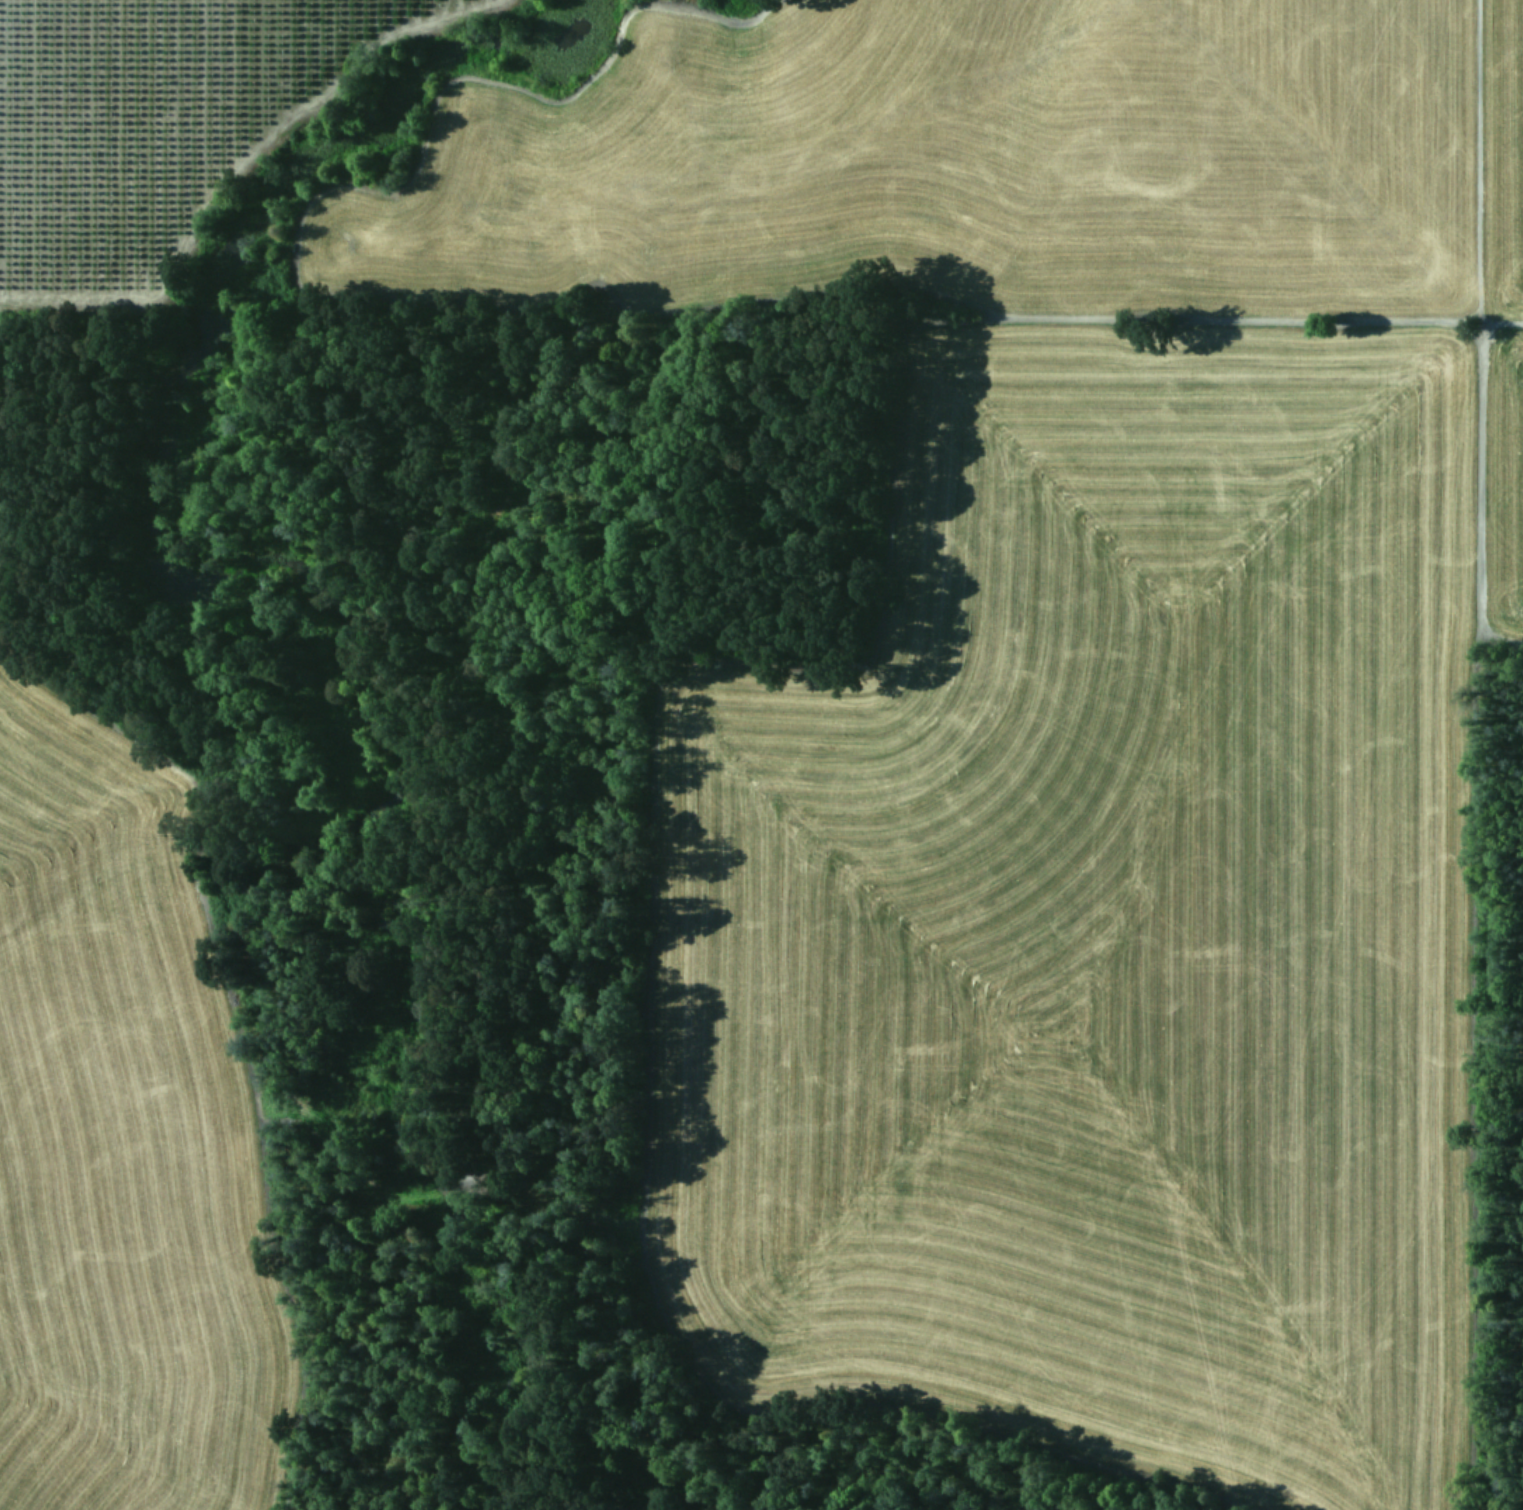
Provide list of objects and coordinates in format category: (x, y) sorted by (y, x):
crop: (992, 657)
crop: (101, 1136)

